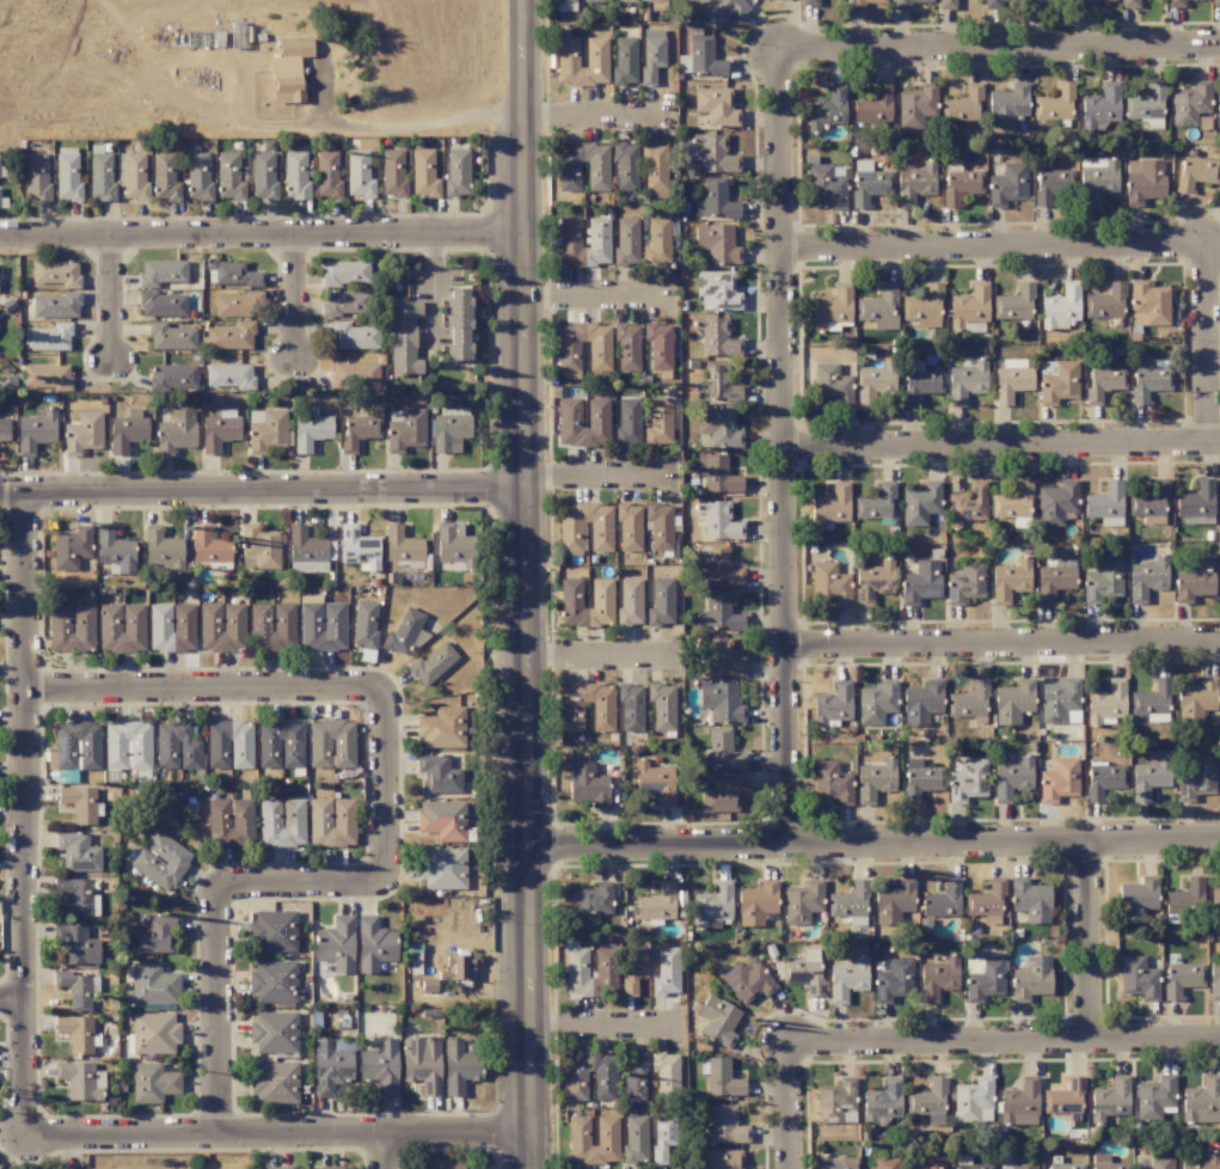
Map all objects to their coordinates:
building: (624, 0)
building: (779, 0)
building: (593, 1)
building: (1038, 1)
building: (809, 2)
building: (1215, 2)
building: (860, 4)
building: (906, 4)
building: (993, 4)
building: (1085, 4)
building: (1129, 4)
building: (1175, 4)
building: (564, 5)
building: (946, 5)
building: (718, 10)
road: (1000, 49)
building: (566, 53)
building: (651, 54)
building: (701, 59)
building: (624, 60)
building: (289, 69)
building: (1054, 103)
building: (1190, 103)
building: (962, 104)
building: (873, 105)
building: (1006, 105)
building: (716, 106)
building: (915, 106)
building: (1101, 106)
building: (827, 108)
building: (1146, 108)
building: (1218, 111)
road: (589, 122)
road: (401, 126)
building: (715, 153)
building: (625, 166)
building: (654, 166)
building: (456, 172)
building: (67, 173)
building: (100, 173)
building: (392, 173)
building: (423, 173)
building: (133, 175)
building: (295, 175)
building: (327, 175)
building: (358, 175)
building: (164, 176)
building: (198, 176)
building: (263, 176)
building: (569, 176)
building: (36, 177)
building: (229, 177)
building: (1096, 179)
building: (1142, 180)
building: (869, 183)
building: (914, 183)
building: (960, 184)
building: (1007, 184)
building: (1053, 184)
building: (826, 186)
building: (715, 200)
building: (597, 232)
road: (257, 238)
building: (657, 240)
building: (626, 241)
building: (717, 244)
road: (999, 250)
building: (56, 273)
building: (161, 273)
building: (344, 273)
building: (231, 274)
road: (431, 288)
building: (716, 290)
road: (591, 296)
road: (299, 298)
road: (116, 300)
building: (344, 302)
building: (1014, 302)
building: (1105, 302)
building: (56, 305)
building: (163, 305)
building: (238, 305)
building: (1148, 305)
building: (969, 306)
building: (832, 307)
building: (879, 307)
building: (924, 307)
building: (1060, 307)
building: (458, 324)
building: (231, 336)
building: (352, 336)
building: (48, 337)
building: (170, 337)
building: (404, 337)
building: (717, 337)
building: (658, 345)
building: (626, 347)
road: (1210, 347)
building: (599, 356)
building: (354, 374)
building: (228, 375)
building: (45, 377)
building: (172, 377)
building: (1148, 379)
building: (1011, 380)
building: (1103, 380)
building: (920, 381)
building: (1057, 381)
building: (873, 382)
building: (965, 382)
building: (718, 384)
building: (830, 385)
building: (568, 412)
building: (627, 421)
building: (658, 421)
building: (4, 426)
building: (449, 428)
building: (719, 428)
building: (219, 429)
building: (265, 429)
building: (404, 429)
building: (35, 430)
building: (127, 430)
building: (176, 432)
building: (311, 432)
building: (358, 432)
building: (82, 433)
road: (790, 447)
road: (1005, 448)
building: (717, 473)
road: (593, 477)
road: (272, 495)
road: (12, 496)
building: (1012, 502)
building: (1056, 502)
building: (875, 503)
building: (920, 503)
building: (1150, 503)
building: (1196, 503)
building: (1219, 503)
building: (832, 504)
building: (967, 504)
building: (1105, 504)
building: (718, 521)
building: (661, 526)
building: (629, 527)
building: (571, 537)
building: (455, 545)
building: (209, 546)
building: (259, 546)
building: (70, 547)
building: (358, 547)
building: (403, 547)
building: (115, 550)
building: (163, 550)
building: (306, 551)
building: (716, 564)
building: (1054, 577)
building: (1146, 579)
building: (1010, 580)
building: (1101, 580)
building: (1194, 580)
building: (872, 582)
building: (920, 582)
building: (965, 582)
road: (523, 583)
building: (829, 583)
building: (601, 593)
building: (630, 601)
building: (661, 602)
building: (718, 613)
building: (321, 624)
building: (364, 624)
building: (171, 626)
building: (221, 626)
building: (271, 626)
building: (70, 628)
building: (122, 628)
building: (405, 632)
road: (1004, 648)
road: (595, 657)
building: (721, 659)
building: (431, 665)
road: (206, 687)
building: (1196, 698)
building: (1060, 699)
building: (722, 702)
building: (969, 702)
building: (1012, 702)
building: (1151, 702)
building: (876, 703)
building: (921, 703)
building: (1106, 703)
building: (832, 704)
building: (662, 705)
building: (631, 708)
building: (602, 716)
building: (442, 727)
building: (331, 743)
building: (127, 745)
building: (228, 745)
building: (280, 745)
building: (76, 746)
building: (176, 746)
building: (721, 749)
building: (437, 775)
building: (1150, 775)
building: (1012, 777)
building: (920, 779)
building: (1104, 779)
building: (1196, 779)
building: (875, 781)
building: (968, 781)
building: (1059, 781)
building: (654, 783)
building: (832, 783)
building: (588, 784)
road: (384, 787)
building: (722, 792)
building: (79, 803)
road: (27, 819)
building: (442, 820)
building: (331, 821)
building: (229, 822)
building: (281, 822)
road: (872, 843)
building: (78, 852)
building: (160, 859)
building: (442, 868)
road: (301, 887)
building: (76, 896)
building: (1138, 899)
building: (1184, 899)
building: (943, 900)
building: (1030, 900)
building: (802, 901)
building: (893, 901)
building: (756, 902)
building: (986, 902)
building: (591, 904)
building: (657, 904)
building: (848, 905)
building: (712, 906)
building: (272, 931)
building: (157, 934)
building: (336, 944)
building: (373, 944)
road: (1093, 944)
building: (76, 945)
building: (576, 962)
building: (634, 967)
building: (456, 968)
building: (804, 971)
building: (666, 972)
building: (938, 978)
building: (983, 978)
building: (1138, 978)
building: (847, 979)
building: (1031, 979)
building: (1181, 979)
building: (748, 980)
building: (894, 980)
building: (1214, 980)
building: (272, 981)
building: (149, 985)
building: (76, 989)
road: (13, 1003)
road: (220, 1011)
building: (717, 1020)
road: (599, 1026)
building: (274, 1032)
building: (76, 1033)
building: (154, 1033)
road: (1006, 1046)
building: (422, 1064)
building: (380, 1066)
building: (459, 1066)
building: (666, 1075)
building: (719, 1077)
building: (636, 1078)
building: (80, 1079)
building: (274, 1082)
building: (152, 1083)
building: (603, 1085)
building: (1063, 1097)
building: (1154, 1098)
building: (1109, 1100)
building: (836, 1101)
building: (882, 1101)
building: (973, 1101)
building: (1202, 1101)
building: (930, 1102)
building: (1019, 1103)
road: (793, 1108)
building: (725, 1125)
building: (577, 1131)
road: (278, 1136)
building: (662, 1136)
building: (634, 1138)
road: (387, 1152)
building: (723, 1159)
building: (832, 1162)
building: (925, 1162)
building: (1153, 1162)
building: (1201, 1162)
building: (885, 1163)
building: (967, 1163)
building: (1017, 1163)
building: (1105, 1163)
building: (439, 1164)
building: (1062, 1164)
building: (276, 1168)
building: (331, 1168)

